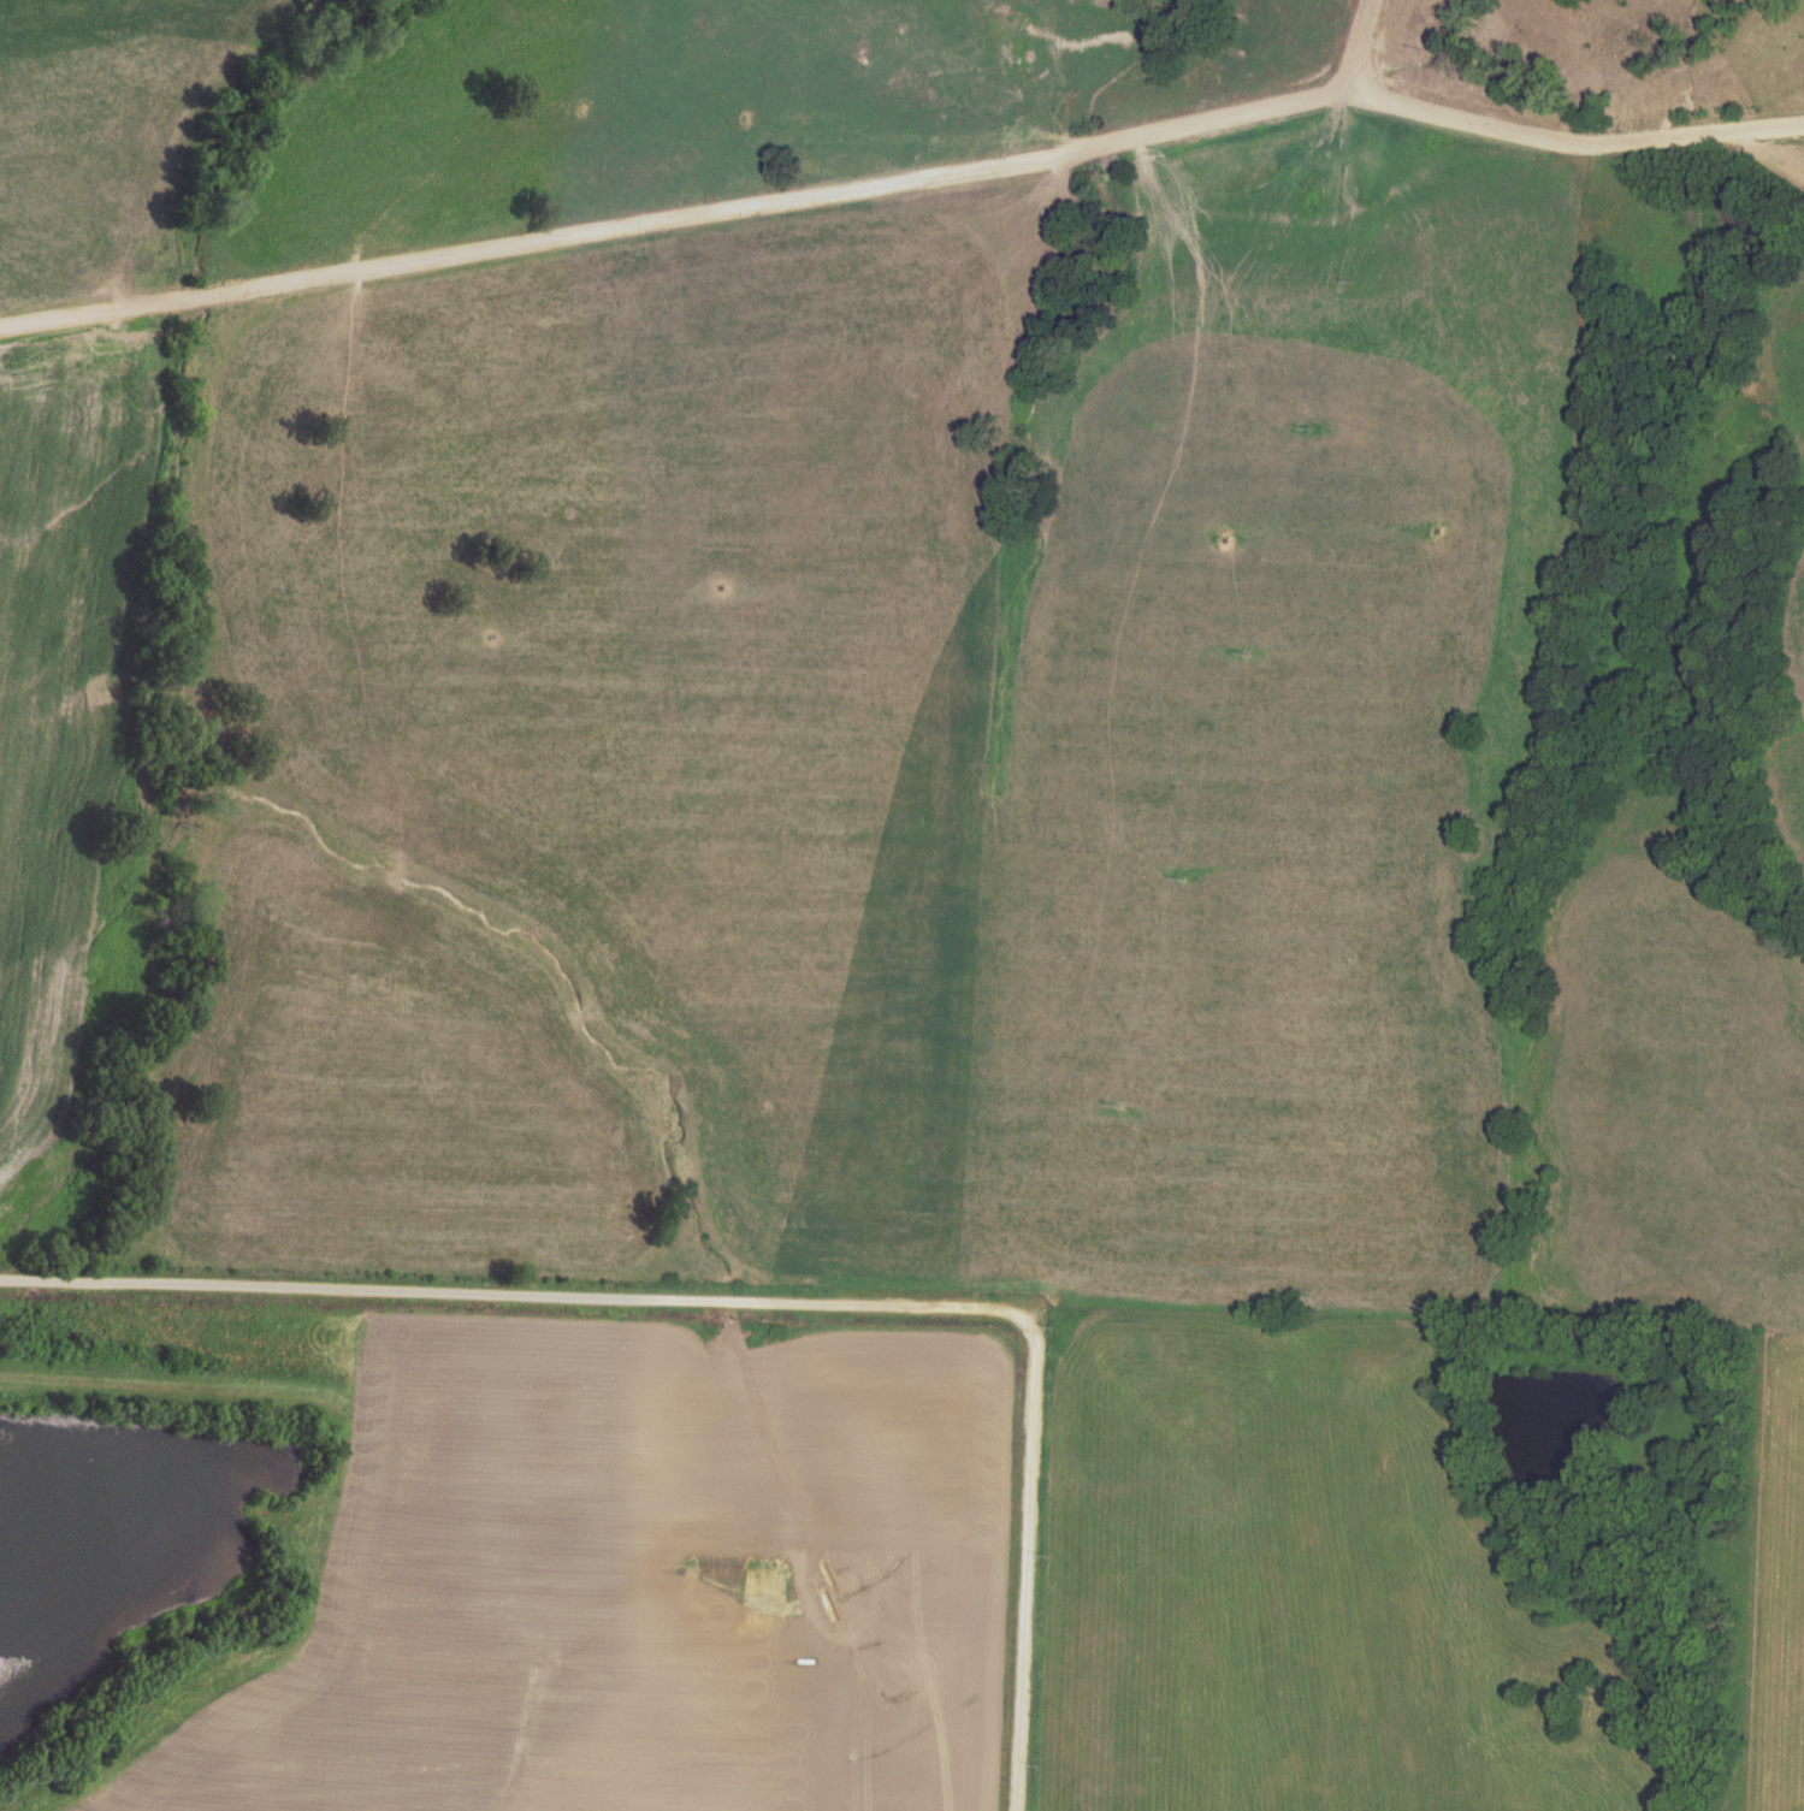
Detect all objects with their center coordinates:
road: (511, 1292)
road: (1028, 1562)

